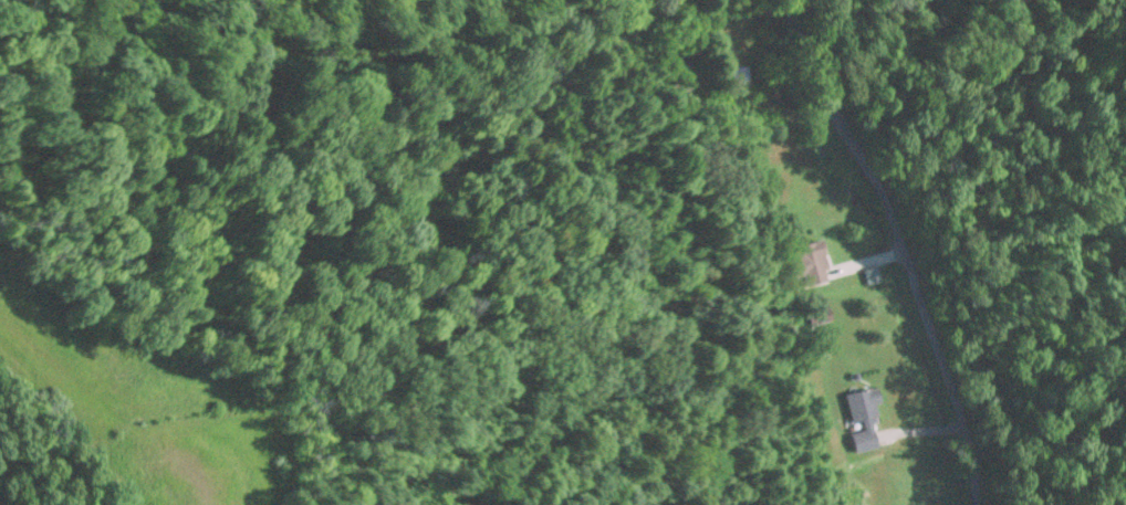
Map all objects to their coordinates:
building: (679, 71)
building: (739, 78)
road: (897, 246)
building: (810, 263)
building: (820, 314)
building: (864, 420)

